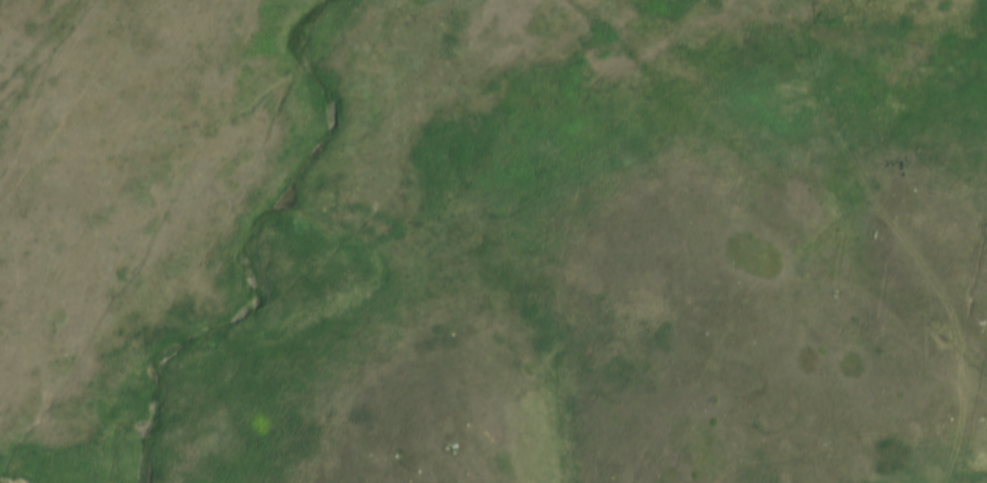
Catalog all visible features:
road: (863, 22)
road: (67, 72)
road: (902, 231)

